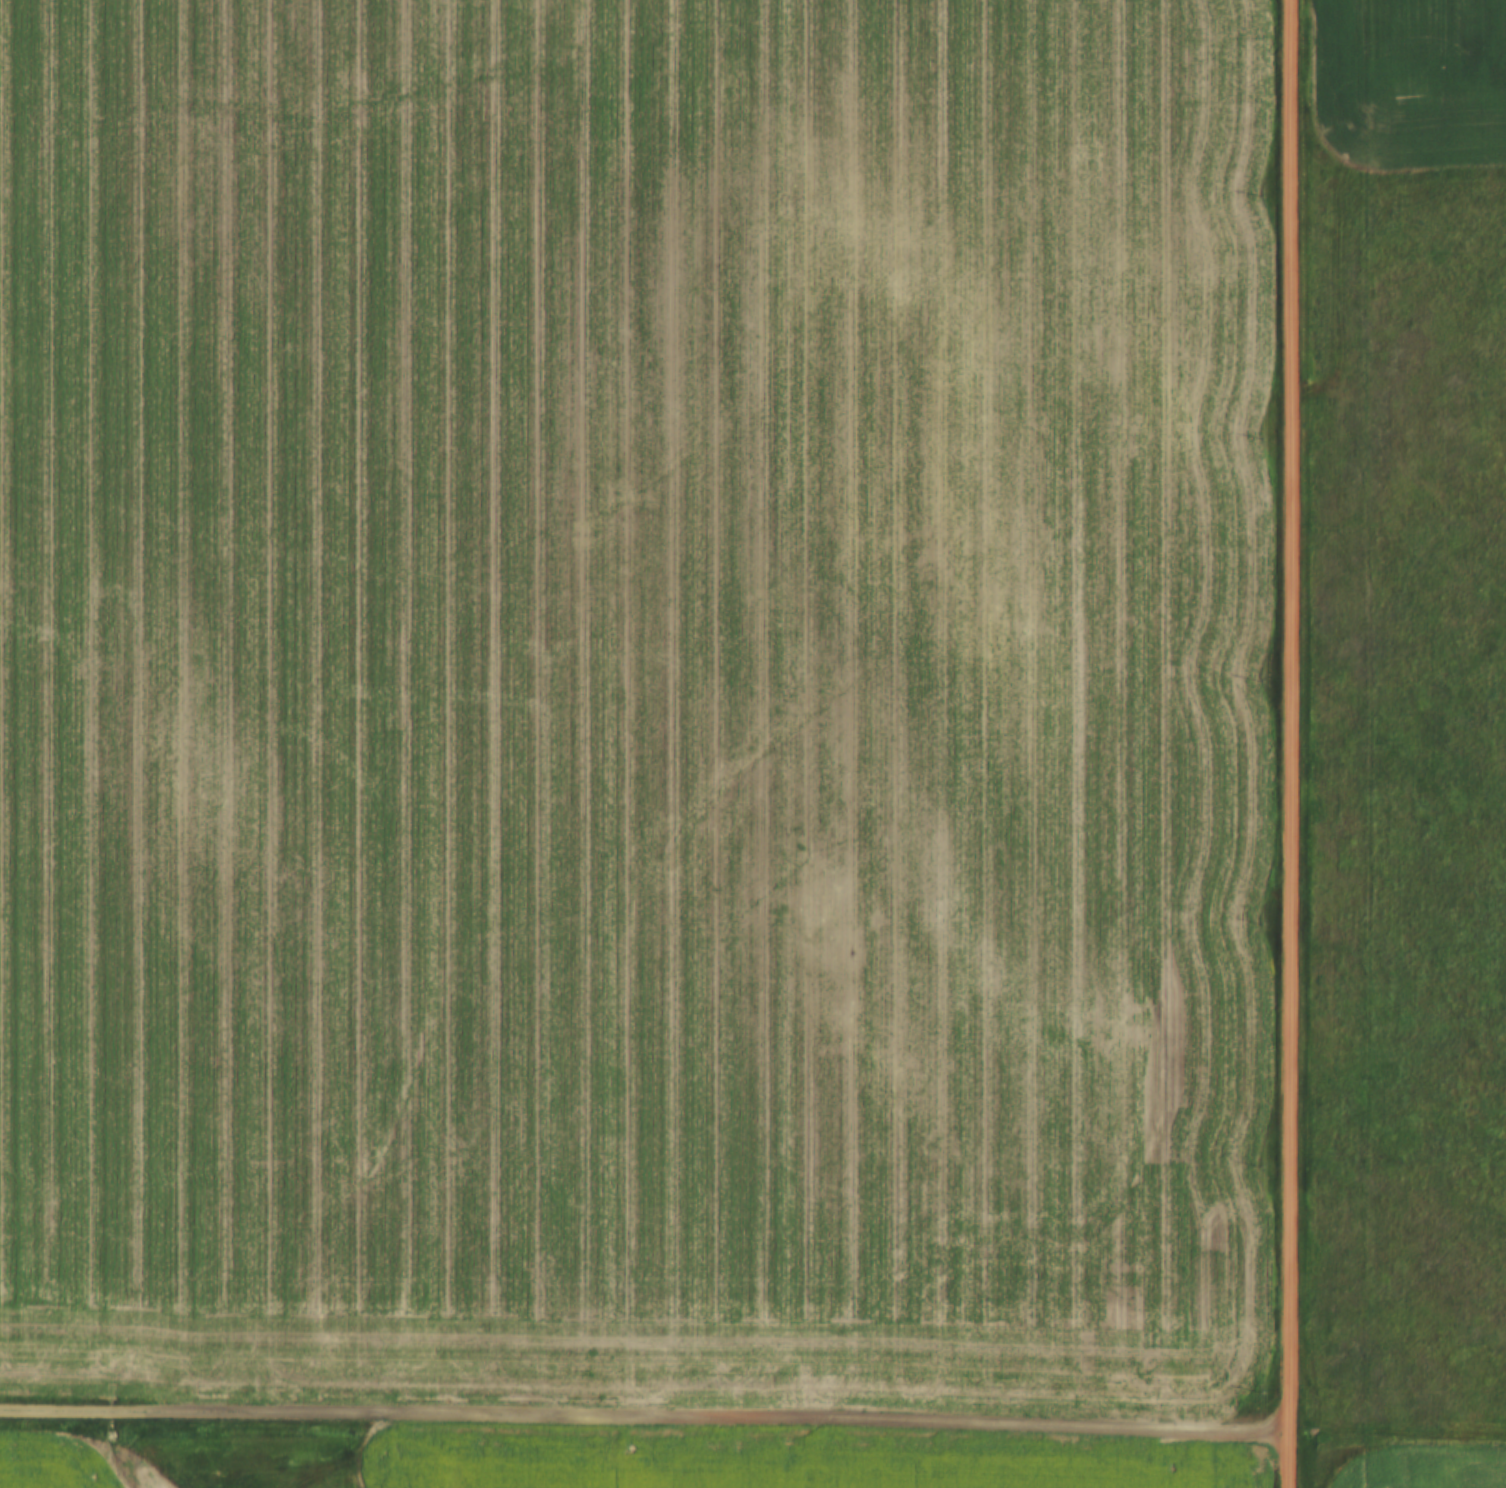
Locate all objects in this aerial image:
road: (1290, 743)
road: (643, 1421)

